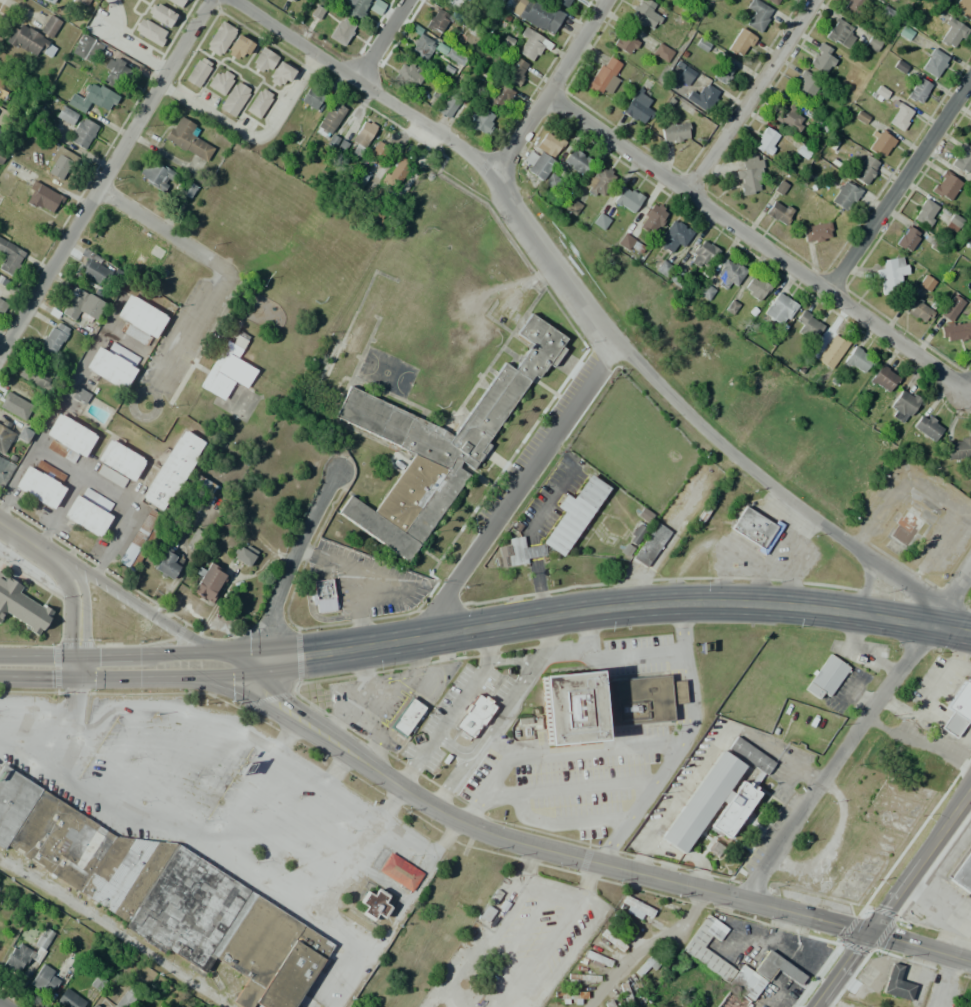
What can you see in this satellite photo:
building: (46, 0)
building: (292, 0)
building: (667, 1)
building: (773, 1)
building: (82, 2)
building: (177, 2)
building: (455, 2)
building: (561, 3)
building: (853, 6)
building: (376, 7)
building: (355, 8)
building: (963, 9)
building: (643, 13)
building: (757, 14)
building: (162, 15)
building: (539, 16)
building: (436, 20)
building: (49, 26)
building: (150, 31)
building: (341, 31)
building: (951, 33)
building: (840, 34)
building: (220, 39)
road: (381, 39)
building: (29, 41)
building: (624, 43)
building: (740, 43)
building: (531, 44)
building: (872, 44)
building: (86, 47)
building: (238, 47)
building: (421, 47)
building: (661, 53)
building: (453, 56)
building: (820, 59)
building: (263, 60)
building: (934, 62)
building: (514, 70)
building: (114, 72)
building: (198, 72)
building: (724, 72)
building: (280, 73)
building: (407, 74)
building: (685, 75)
building: (604, 76)
building: (220, 81)
building: (4, 85)
building: (803, 87)
road: (552, 88)
building: (918, 90)
building: (431, 93)
building: (880, 93)
road: (748, 95)
building: (311, 97)
building: (702, 97)
building: (498, 98)
building: (93, 99)
building: (234, 99)
building: (259, 103)
building: (637, 107)
building: (450, 108)
building: (66, 115)
building: (789, 117)
building: (900, 117)
building: (330, 118)
building: (481, 121)
building: (819, 127)
building: (1, 131)
building: (674, 131)
building: (82, 133)
building: (969, 135)
building: (187, 138)
building: (361, 138)
building: (766, 141)
building: (879, 141)
building: (379, 151)
building: (543, 155)
building: (962, 158)
building: (576, 161)
building: (58, 162)
building: (864, 170)
building: (398, 171)
building: (155, 174)
building: (748, 174)
road: (104, 175)
road: (897, 180)
building: (598, 181)
building: (945, 185)
building: (779, 188)
building: (844, 196)
building: (42, 198)
building: (626, 198)
building: (377, 207)
building: (571, 207)
building: (778, 212)
building: (925, 213)
building: (652, 218)
building: (600, 221)
building: (953, 222)
road: (160, 228)
building: (816, 232)
building: (674, 237)
building: (906, 238)
building: (625, 241)
road: (758, 242)
building: (969, 243)
building: (110, 245)
building: (702, 255)
building: (9, 257)
building: (138, 261)
building: (94, 271)
building: (729, 272)
building: (890, 273)
building: (925, 283)
building: (756, 288)
building: (705, 292)
park: (244, 300)
building: (82, 303)
road: (585, 306)
building: (2, 307)
building: (779, 308)
building: (950, 308)
building: (918, 311)
building: (138, 320)
building: (807, 325)
building: (956, 331)
building: (54, 338)
building: (235, 345)
building: (830, 346)
building: (858, 361)
building: (112, 364)
road: (168, 366)
building: (225, 375)
building: (34, 377)
building: (884, 379)
building: (80, 395)
building: (14, 403)
building: (902, 405)
building: (925, 429)
building: (67, 437)
building: (11, 438)
building: (437, 447)
building: (958, 447)
building: (118, 463)
building: (173, 468)
building: (4, 471)
road: (87, 480)
building: (40, 484)
road: (515, 490)
road: (58, 511)
building: (88, 513)
building: (573, 514)
building: (645, 515)
building: (905, 527)
building: (755, 528)
building: (636, 534)
building: (139, 540)
building: (195, 540)
building: (650, 544)
building: (626, 550)
building: (503, 551)
building: (521, 551)
building: (241, 555)
building: (501, 561)
building: (168, 562)
road: (291, 566)
building: (208, 580)
building: (322, 589)
road: (115, 594)
road: (950, 594)
road: (74, 595)
building: (324, 605)
building: (22, 606)
road: (600, 609)
road: (567, 651)
road: (632, 657)
road: (116, 668)
building: (826, 677)
building: (602, 704)
building: (958, 709)
road: (452, 710)
building: (407, 717)
building: (473, 717)
road: (687, 727)
road: (481, 748)
road: (836, 760)
road: (550, 791)
building: (717, 796)
road: (527, 845)
road: (609, 847)
road: (917, 859)
building: (399, 872)
building: (962, 874)
building: (163, 895)
building: (373, 904)
building: (636, 907)
building: (43, 938)
building: (612, 940)
road: (918, 947)
building: (703, 956)
building: (20, 959)
building: (595, 959)
building: (649, 965)
road: (837, 969)
building: (582, 977)
building: (45, 979)
building: (896, 983)
building: (625, 994)
building: (570, 997)
building: (69, 999)
building: (125, 999)
building: (733, 1000)
road: (2, 1005)
building: (611, 1005)

